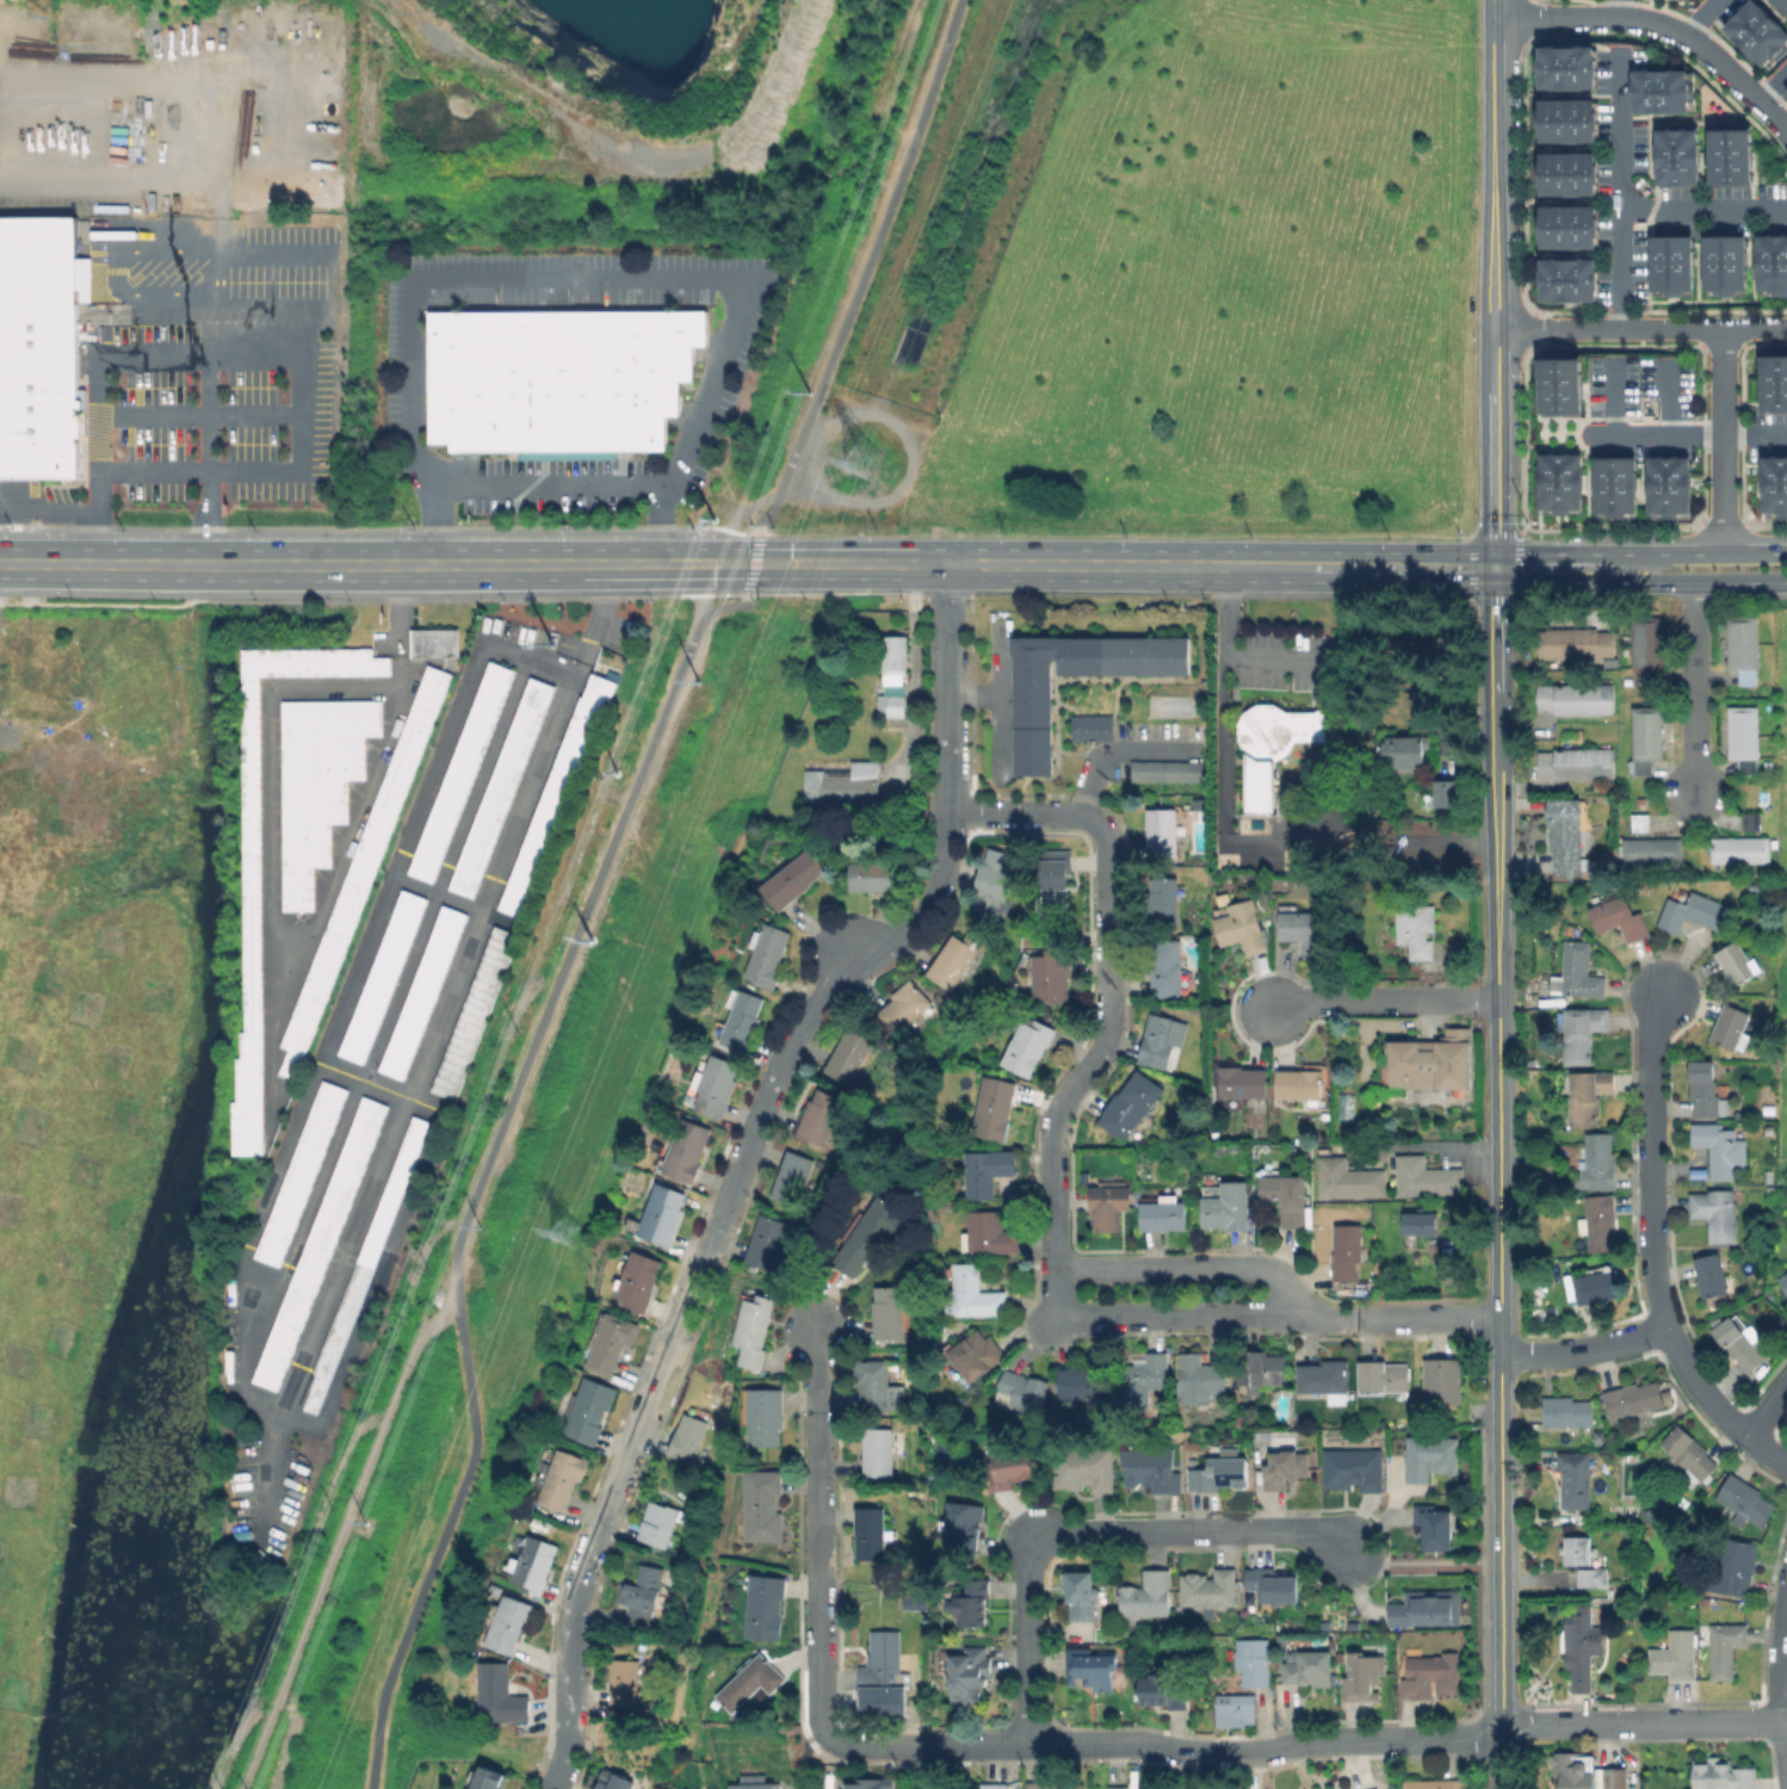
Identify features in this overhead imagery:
building: (1780, 6)
road: (1624, 8)
road: (1709, 19)
road: (1659, 20)
building: (1755, 32)
building: (1564, 66)
building: (1659, 91)
building: (1785, 92)
road: (1775, 93)
quarry: (585, 100)
road: (656, 103)
building: (1564, 120)
building: (1675, 156)
building: (1729, 156)
building: (1564, 173)
road: (1622, 191)
road: (1705, 210)
building: (1564, 227)
building: (41, 260)
building: (1669, 264)
building: (1723, 264)
building: (1770, 264)
road: (867, 267)
road: (161, 273)
road: (589, 277)
building: (1565, 279)
road: (1492, 284)
road: (1639, 328)
road: (100, 361)
road: (206, 371)
building: (559, 377)
building: (1773, 382)
building: (1559, 385)
building: (38, 390)
road: (198, 411)
road: (298, 411)
road: (1688, 437)
road: (1723, 440)
power tower: (860, 462)
building: (1558, 482)
building: (1613, 484)
building: (1667, 484)
building: (1773, 484)
road: (558, 488)
road: (49, 510)
road: (743, 514)
road: (740, 550)
road: (786, 550)
road: (707, 555)
road: (1547, 555)
road: (1698, 555)
road: (754, 563)
road: (879, 563)
road: (103, 564)
road: (450, 564)
road: (1087, 565)
road: (1270, 567)
road: (1403, 568)
traffic signals: (1492, 569)
road: (719, 578)
road: (783, 578)
road: (1637, 583)
road: (718, 609)
building: (435, 642)
building: (1575, 643)
building: (1744, 646)
building: (1646, 648)
road: (1273, 660)
building: (894, 677)
road: (1692, 692)
building: (1542, 697)
building: (1565, 699)
building: (1595, 699)
building: (1033, 724)
building: (1093, 729)
road: (1220, 729)
building: (1646, 737)
building: (1744, 737)
building: (1270, 747)
building: (1399, 751)
road: (1123, 753)
building: (1566, 763)
building: (1596, 763)
building: (1542, 764)
building: (462, 770)
building: (1168, 770)
building: (841, 780)
building: (319, 782)
building: (502, 787)
building: (561, 792)
building: (1442, 793)
road: (947, 806)
building: (1748, 821)
building: (1162, 832)
building: (1565, 834)
road: (1453, 844)
building: (1736, 849)
building: (1647, 850)
building: (253, 854)
building: (364, 866)
building: (872, 875)
building: (792, 878)
building: (1055, 880)
building: (994, 881)
building: (1163, 903)
building: (1693, 911)
building: (1619, 918)
building: (1241, 924)
building: (1416, 929)
building: (1568, 929)
road: (580, 930)
building: (1304, 930)
road: (299, 937)
building: (766, 954)
road: (849, 954)
building: (956, 959)
building: (1738, 962)
building: (1165, 967)
building: (1577, 971)
road: (1106, 974)
building: (382, 976)
building: (1051, 977)
building: (940, 988)
building: (421, 991)
building: (938, 996)
road: (1495, 996)
road: (1383, 999)
building: (903, 1007)
building: (475, 1011)
building: (740, 1019)
building: (1730, 1026)
building: (1581, 1032)
building: (1158, 1040)
building: (1027, 1045)
building: (848, 1054)
building: (1433, 1064)
building: (1242, 1082)
building: (716, 1084)
building: (1299, 1084)
building: (1703, 1088)
building: (1588, 1095)
building: (1131, 1104)
building: (994, 1108)
building: (1768, 1109)
building: (820, 1116)
road: (1428, 1146)
building: (1720, 1149)
building: (687, 1150)
building: (1599, 1162)
building: (988, 1170)
building: (297, 1172)
rooftop solar panel: (1696, 1175)
building: (791, 1177)
building: (1427, 1177)
building: (1535, 1177)
building: (1349, 1178)
building: (1286, 1196)
building: (1108, 1207)
building: (1226, 1207)
building: (1164, 1213)
building: (662, 1214)
building: (1715, 1214)
building: (1599, 1221)
building: (1421, 1222)
road: (1647, 1224)
power tower: (558, 1228)
building: (989, 1233)
building: (870, 1234)
building: (765, 1240)
building: (316, 1243)
building: (1347, 1251)
road: (1189, 1263)
building: (1711, 1277)
building: (638, 1280)
building: (1783, 1282)
building: (1596, 1287)
road: (1055, 1290)
building: (975, 1293)
building: (888, 1312)
road: (1276, 1312)
building: (755, 1329)
building: (611, 1342)
building: (1740, 1343)
road: (1582, 1349)
building: (976, 1355)
building: (1261, 1369)
building: (1383, 1375)
building: (1199, 1379)
building: (1144, 1380)
building: (1325, 1380)
building: (1442, 1380)
building: (1080, 1382)
building: (874, 1383)
road: (654, 1385)
building: (1022, 1391)
building: (1633, 1400)
road: (1764, 1407)
building: (590, 1409)
building: (1566, 1411)
building: (766, 1416)
building: (687, 1436)
road: (1764, 1449)
building: (880, 1451)
building: (1688, 1456)
building: (1433, 1457)
building: (1013, 1466)
building: (1354, 1468)
building: (1285, 1469)
building: (1087, 1471)
building: (1151, 1471)
building: (1219, 1477)
building: (563, 1478)
building: (1575, 1479)
building: (1744, 1500)
building: (763, 1504)
road: (453, 1510)
building: (1646, 1515)
building: (963, 1521)
building: (657, 1523)
building: (1435, 1527)
road: (1086, 1530)
building: (870, 1531)
road: (816, 1533)
building: (1577, 1549)
road: (1421, 1562)
building: (534, 1564)
building: (1733, 1568)
building: (1593, 1577)
road: (1501, 1578)
building: (1274, 1585)
building: (643, 1587)
building: (1211, 1589)
building: (1148, 1597)
building: (1082, 1598)
building: (923, 1601)
building: (970, 1604)
building: (766, 1605)
building: (1428, 1609)
building: (511, 1622)
building: (1322, 1626)
building: (1282, 1641)
building: (1582, 1647)
building: (1724, 1647)
road: (1779, 1647)
building: (1675, 1655)
building: (1253, 1660)
building: (884, 1663)
building: (1095, 1670)
building: (1309, 1670)
building: (969, 1672)
building: (1362, 1673)
building: (1432, 1677)
building: (625, 1680)
building: (750, 1680)
building: (1162, 1690)
building: (501, 1691)
building: (1236, 1710)
road: (1305, 1740)
road: (1780, 1754)
road: (804, 1757)
road: (1502, 1760)
road: (927, 1766)
building: (1569, 1770)
building: (1712, 1773)
building: (1607, 1777)
building: (490, 1778)
building: (1744, 1778)
building: (616, 1783)
building: (754, 1784)
building: (1430, 1784)
building: (872, 1785)
building: (994, 1785)
building: (1052, 1785)
building: (690, 1787)
building: (1118, 1787)

